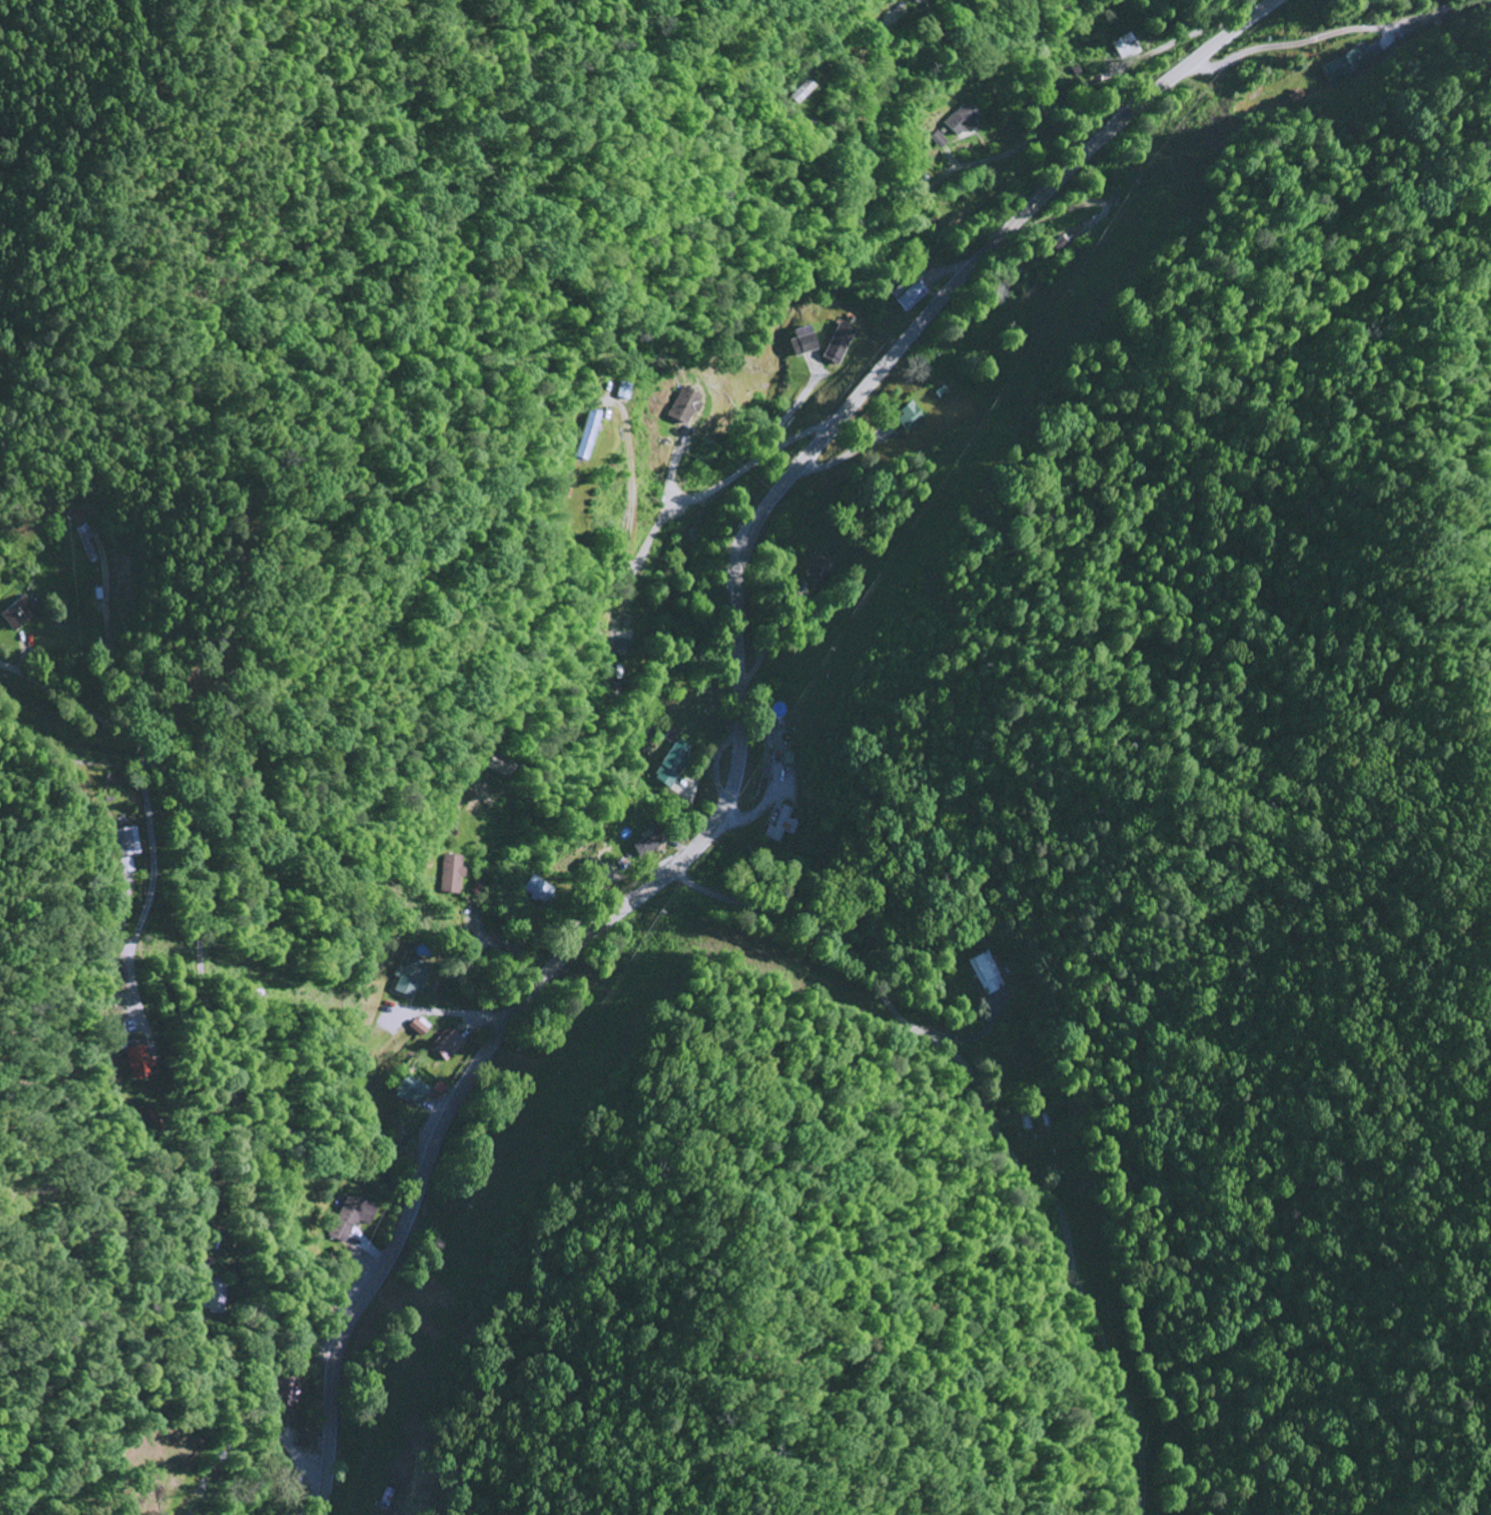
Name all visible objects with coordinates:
building: (961, 121)
road: (927, 191)
building: (903, 295)
building: (798, 341)
building: (831, 344)
building: (619, 391)
building: (678, 405)
building: (903, 417)
building: (586, 435)
road: (706, 496)
building: (17, 612)
park: (197, 686)
road: (738, 718)
building: (669, 763)
building: (780, 826)
building: (126, 842)
building: (641, 843)
building: (126, 865)
building: (585, 868)
building: (451, 874)
building: (986, 972)
building: (405, 976)
building: (412, 1027)
road: (215, 1036)
building: (442, 1046)
building: (134, 1061)
building: (403, 1090)
building: (347, 1217)
building: (215, 1297)
building: (286, 1391)

